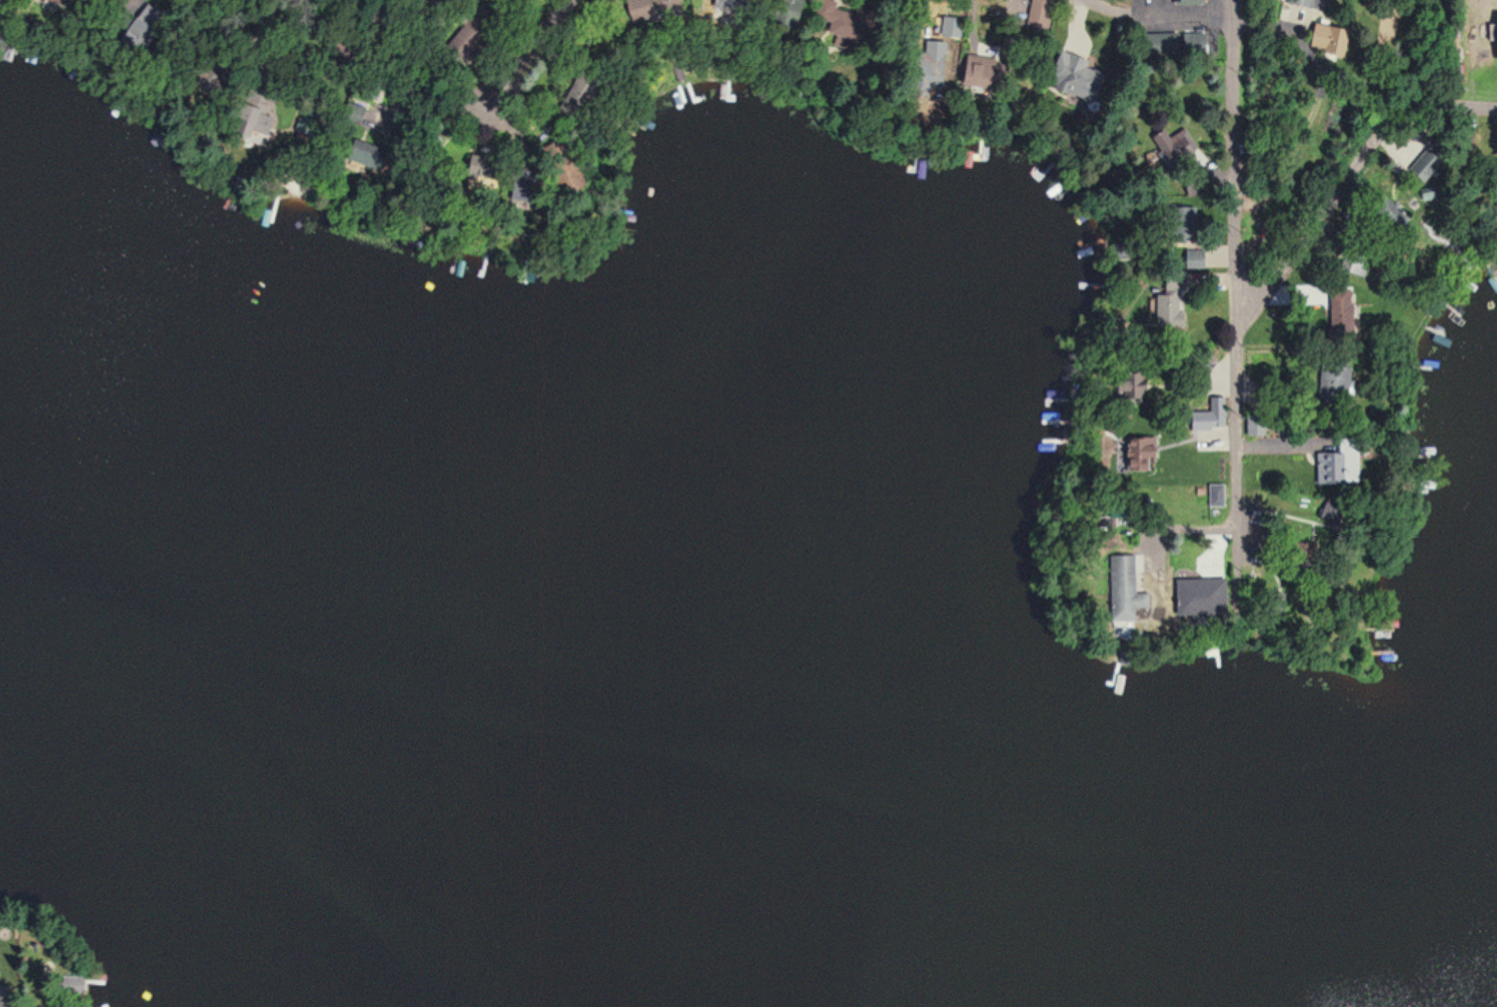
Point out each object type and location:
building: (1179, 0)
building: (1306, 4)
building: (666, 6)
building: (1045, 13)
road: (1153, 16)
building: (849, 22)
building: (1492, 35)
building: (1333, 41)
road: (525, 57)
road: (1345, 182)
building: (1354, 264)
road: (1237, 282)
building: (1164, 298)
building: (1334, 315)
building: (1326, 386)
building: (1206, 416)
building: (1251, 426)
building: (1212, 494)
building: (1120, 588)
building: (1194, 602)

